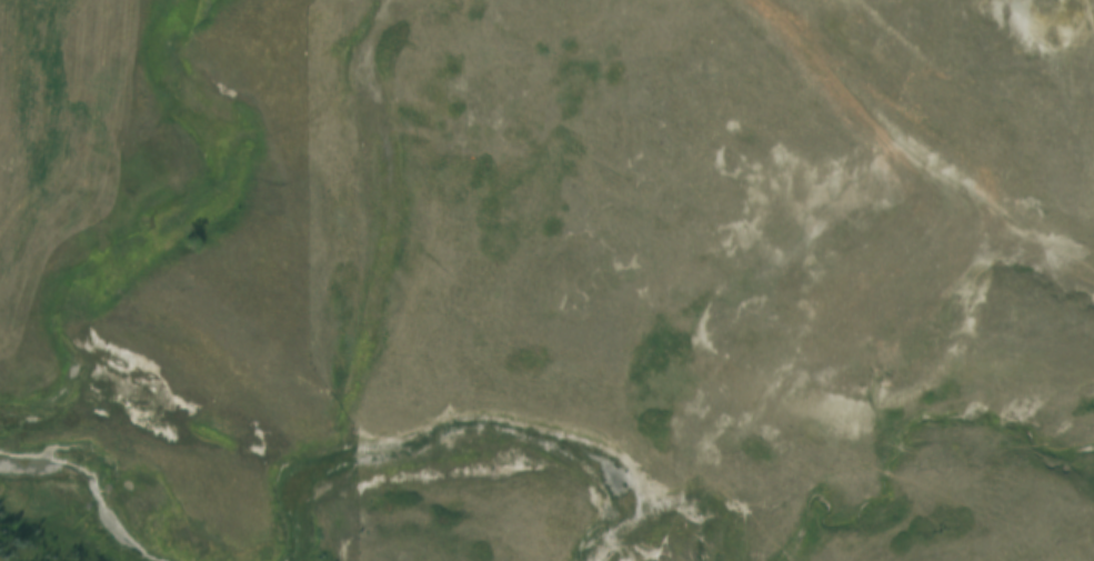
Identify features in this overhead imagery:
road: (845, 103)

